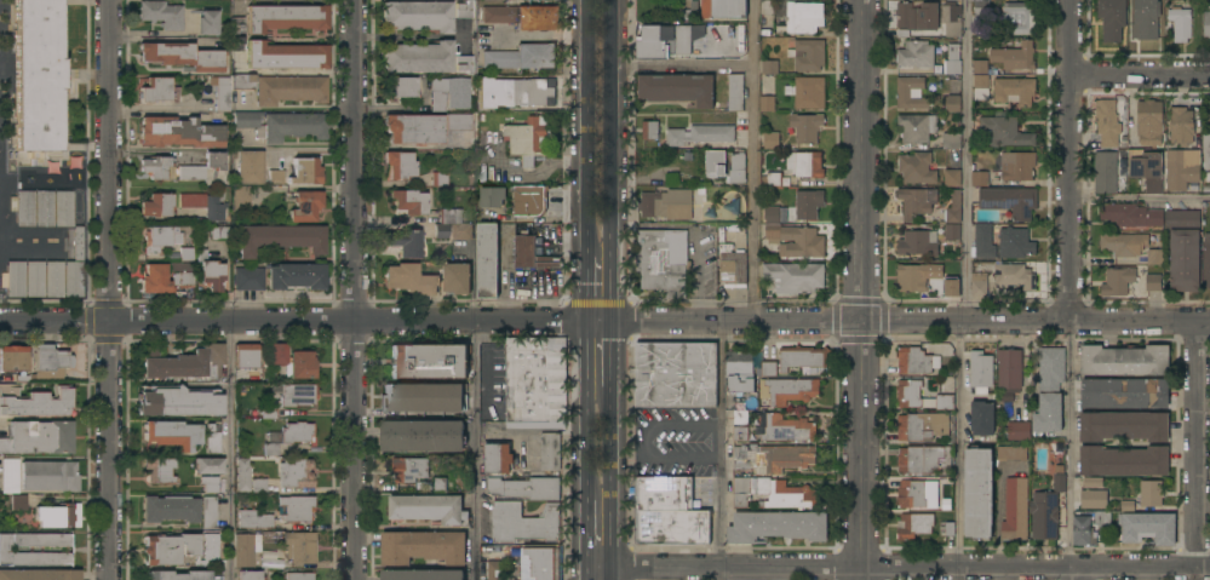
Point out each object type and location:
building: (767, 6)
building: (980, 7)
building: (463, 8)
building: (723, 8)
building: (161, 13)
building: (417, 15)
building: (521, 16)
building: (917, 16)
building: (285, 17)
building: (803, 17)
building: (1019, 18)
building: (1111, 18)
building: (1146, 19)
building: (207, 21)
building: (1180, 21)
building: (951, 22)
building: (236, 24)
building: (1206, 24)
building: (688, 30)
building: (736, 31)
building: (902, 34)
building: (236, 44)
building: (650, 48)
building: (183, 54)
building: (807, 54)
building: (916, 54)
building: (286, 56)
building: (1014, 56)
building: (418, 57)
building: (521, 57)
building: (952, 59)
building: (463, 63)
road: (684, 65)
building: (769, 67)
building: (979, 67)
road: (1140, 75)
building: (38, 79)
building: (242, 81)
building: (398, 87)
building: (981, 87)
building: (289, 88)
building: (677, 88)
building: (156, 90)
building: (1014, 91)
building: (220, 92)
building: (516, 92)
building: (735, 92)
building: (807, 92)
building: (911, 93)
building: (458, 98)
building: (767, 103)
building: (953, 105)
building: (458, 121)
building: (1107, 122)
building: (1148, 122)
building: (282, 125)
building: (1181, 126)
building: (804, 127)
building: (916, 127)
building: (413, 128)
road: (586, 128)
road: (612, 128)
building: (649, 130)
building: (178, 132)
building: (1003, 132)
building: (699, 134)
building: (528, 139)
building: (770, 140)
building: (951, 140)
building: (1205, 151)
road: (753, 160)
road: (965, 160)
road: (1068, 160)
building: (398, 165)
building: (804, 165)
building: (202, 166)
building: (248, 166)
building: (724, 166)
building: (1016, 166)
building: (156, 167)
building: (916, 167)
building: (1146, 168)
building: (1182, 170)
building: (305, 171)
building: (1105, 173)
building: (275, 177)
building: (769, 178)
building: (952, 178)
building: (438, 179)
building: (979, 179)
building: (492, 196)
building: (240, 197)
road: (1139, 197)
building: (529, 200)
building: (408, 201)
building: (916, 201)
building: (1009, 201)
building: (666, 203)
building: (808, 203)
building: (156, 205)
building: (203, 205)
building: (304, 206)
building: (22, 207)
building: (44, 207)
building: (953, 207)
building: (63, 208)
building: (770, 214)
building: (1130, 216)
building: (1181, 219)
building: (452, 225)
building: (952, 231)
building: (219, 232)
building: (159, 237)
building: (279, 239)
building: (405, 241)
building: (793, 241)
building: (984, 242)
building: (78, 243)
building: (918, 243)
building: (1015, 243)
building: (1123, 243)
building: (524, 251)
building: (185, 253)
building: (1155, 257)
building: (487, 259)
building: (1183, 260)
building: (1206, 260)
building: (659, 264)
building: (179, 265)
building: (733, 268)
building: (210, 271)
building: (296, 276)
road: (694, 276)
building: (1014, 276)
building: (248, 277)
building: (793, 277)
building: (916, 277)
building: (13, 278)
building: (34, 278)
building: (53, 278)
building: (73, 278)
building: (185, 278)
building: (409, 278)
building: (457, 278)
building: (154, 280)
building: (1119, 282)
building: (1153, 282)
building: (979, 285)
road: (598, 288)
road: (111, 289)
road: (355, 289)
road: (858, 289)
building: (952, 289)
road: (429, 320)
road: (962, 321)
road: (1139, 322)
road: (598, 352)
building: (245, 355)
building: (12, 358)
building: (48, 358)
building: (801, 358)
building: (292, 361)
building: (428, 361)
building: (916, 361)
building: (1124, 361)
building: (183, 362)
building: (768, 369)
building: (980, 371)
building: (739, 372)
building: (675, 374)
building: (1008, 374)
building: (531, 384)
building: (1049, 389)
building: (787, 390)
building: (1124, 394)
building: (908, 396)
building: (287, 397)
building: (423, 397)
building: (176, 401)
building: (34, 402)
building: (740, 418)
building: (981, 419)
building: (922, 426)
building: (1123, 426)
building: (787, 429)
building: (297, 431)
building: (1016, 431)
road: (510, 432)
building: (171, 433)
building: (740, 433)
building: (420, 435)
building: (38, 437)
building: (212, 437)
road: (585, 441)
road: (609, 441)
road: (1069, 443)
road: (1197, 444)
building: (270, 449)
road: (474, 449)
road: (719, 449)
road: (231, 450)
building: (550, 450)
road: (958, 450)
building: (1010, 453)
building: (773, 456)
building: (497, 458)
building: (922, 459)
building: (1123, 460)
building: (207, 465)
building: (409, 469)
building: (159, 470)
building: (296, 472)
building: (242, 473)
building: (8, 475)
building: (48, 475)
building: (1059, 479)
building: (1093, 482)
building: (210, 483)
building: (258, 484)
building: (438, 484)
building: (526, 488)
building: (772, 493)
building: (977, 493)
building: (1151, 494)
building: (917, 495)
building: (1093, 499)
building: (18, 501)
building: (1128, 506)
building: (170, 507)
building: (296, 507)
building: (428, 509)
building: (1015, 510)
building: (208, 512)
building: (667, 512)
building: (58, 515)
building: (1044, 516)
building: (253, 518)
building: (523, 523)
building: (913, 524)
building: (776, 526)
building: (1089, 527)
building: (946, 528)
building: (1148, 528)
road: (598, 533)
building: (213, 546)
building: (299, 546)
building: (423, 546)
building: (168, 547)
building: (245, 547)
building: (5, 549)
building: (540, 563)
road: (727, 565)
road: (1033, 565)
building: (494, 570)
road: (1077, 573)
road: (1194, 573)
building: (39, 574)
building: (422, 574)
road: (593, 574)
road: (602, 574)
building: (177, 575)
building: (248, 575)
building: (299, 575)

